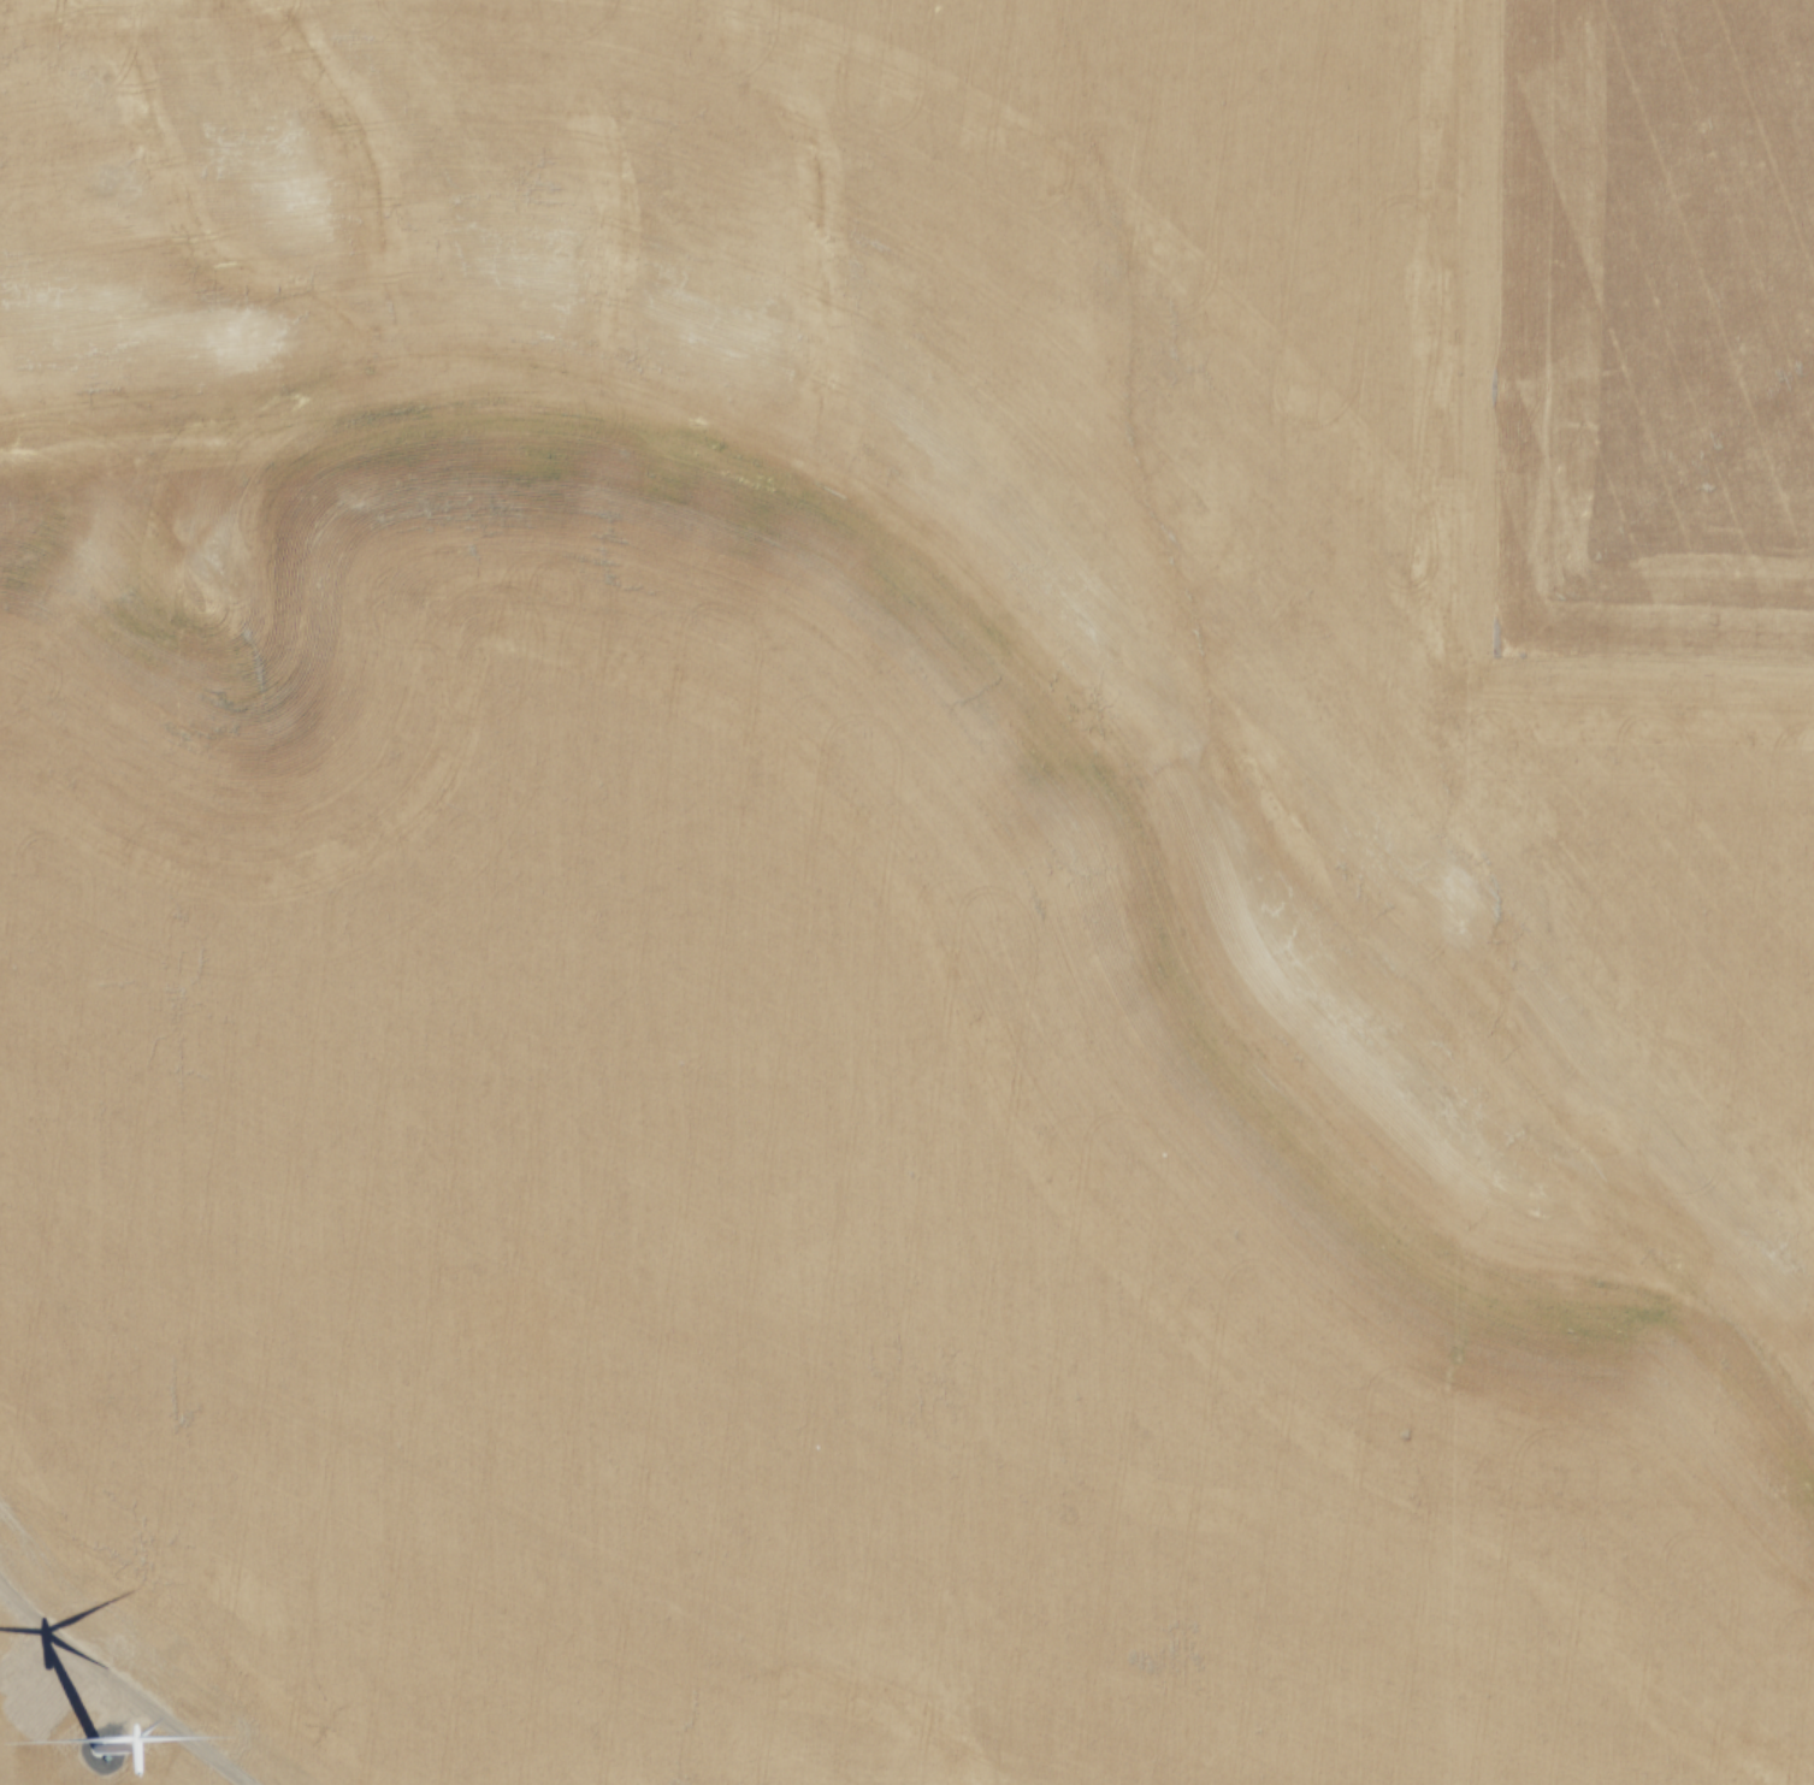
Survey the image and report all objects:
road: (125, 1689)
wind turbine: (95, 1744)

